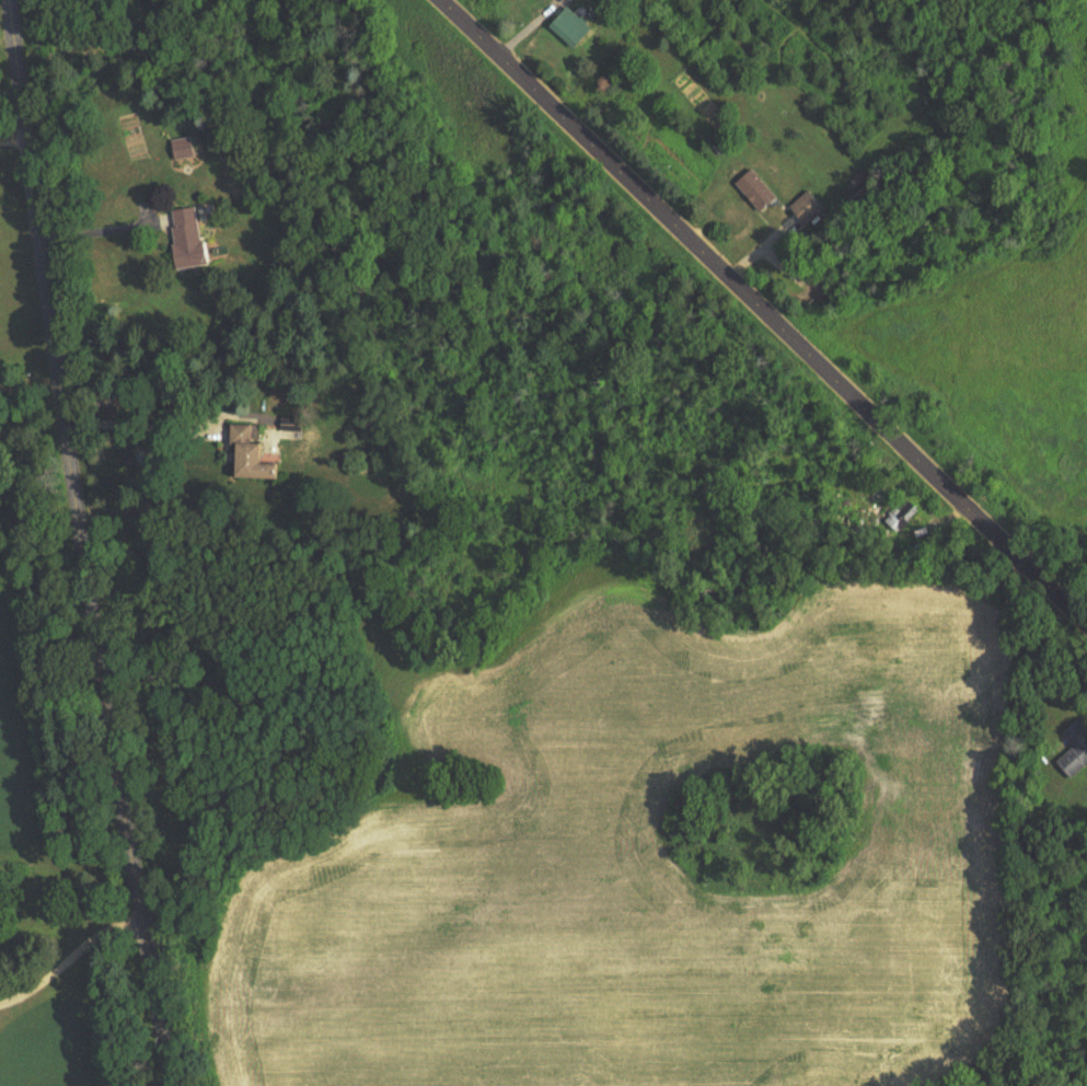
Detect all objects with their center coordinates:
building: (582, 0)
building: (576, 25)
road: (15, 135)
building: (187, 150)
building: (756, 190)
building: (808, 207)
road: (103, 227)
building: (190, 239)
road: (763, 314)
road: (32, 377)
building: (254, 454)
building: (899, 512)
road: (88, 543)
building: (1075, 751)
road: (73, 955)

